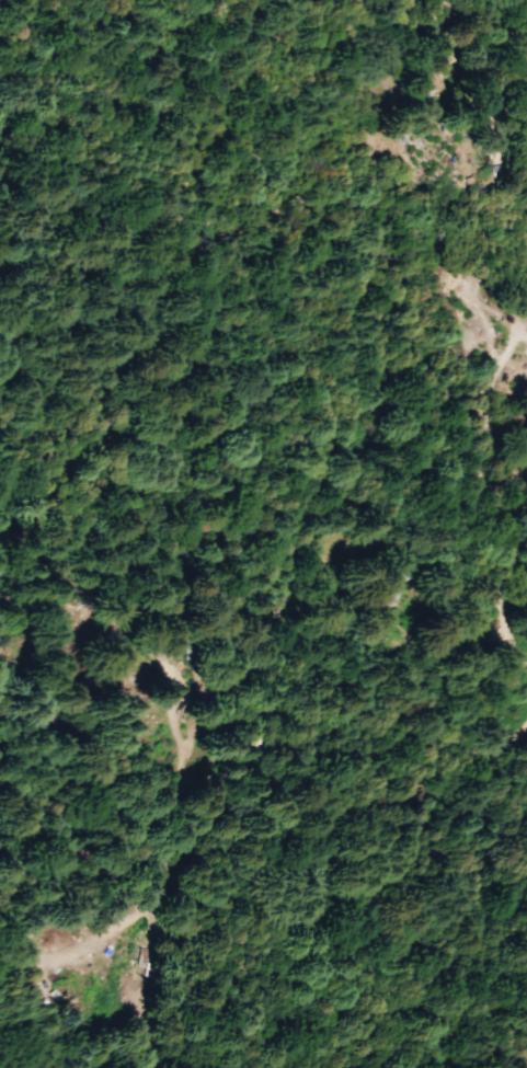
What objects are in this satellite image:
road: (506, 13)
building: (414, 39)
building: (440, 82)
road: (123, 96)
road: (215, 161)
road: (523, 275)
building: (467, 280)
road: (495, 404)
road: (514, 541)
building: (410, 594)
road: (513, 611)
road: (517, 645)
road: (497, 714)
road: (288, 740)
road: (100, 1004)

